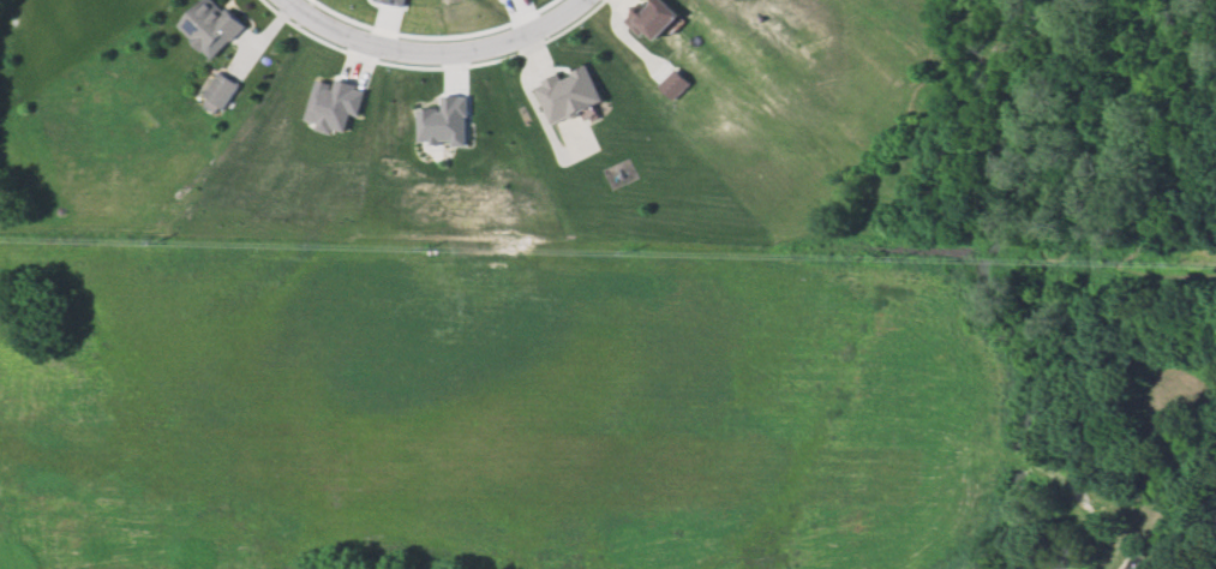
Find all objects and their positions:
building: (654, 20)
building: (211, 25)
road: (433, 55)
building: (676, 84)
building: (222, 94)
building: (571, 96)

